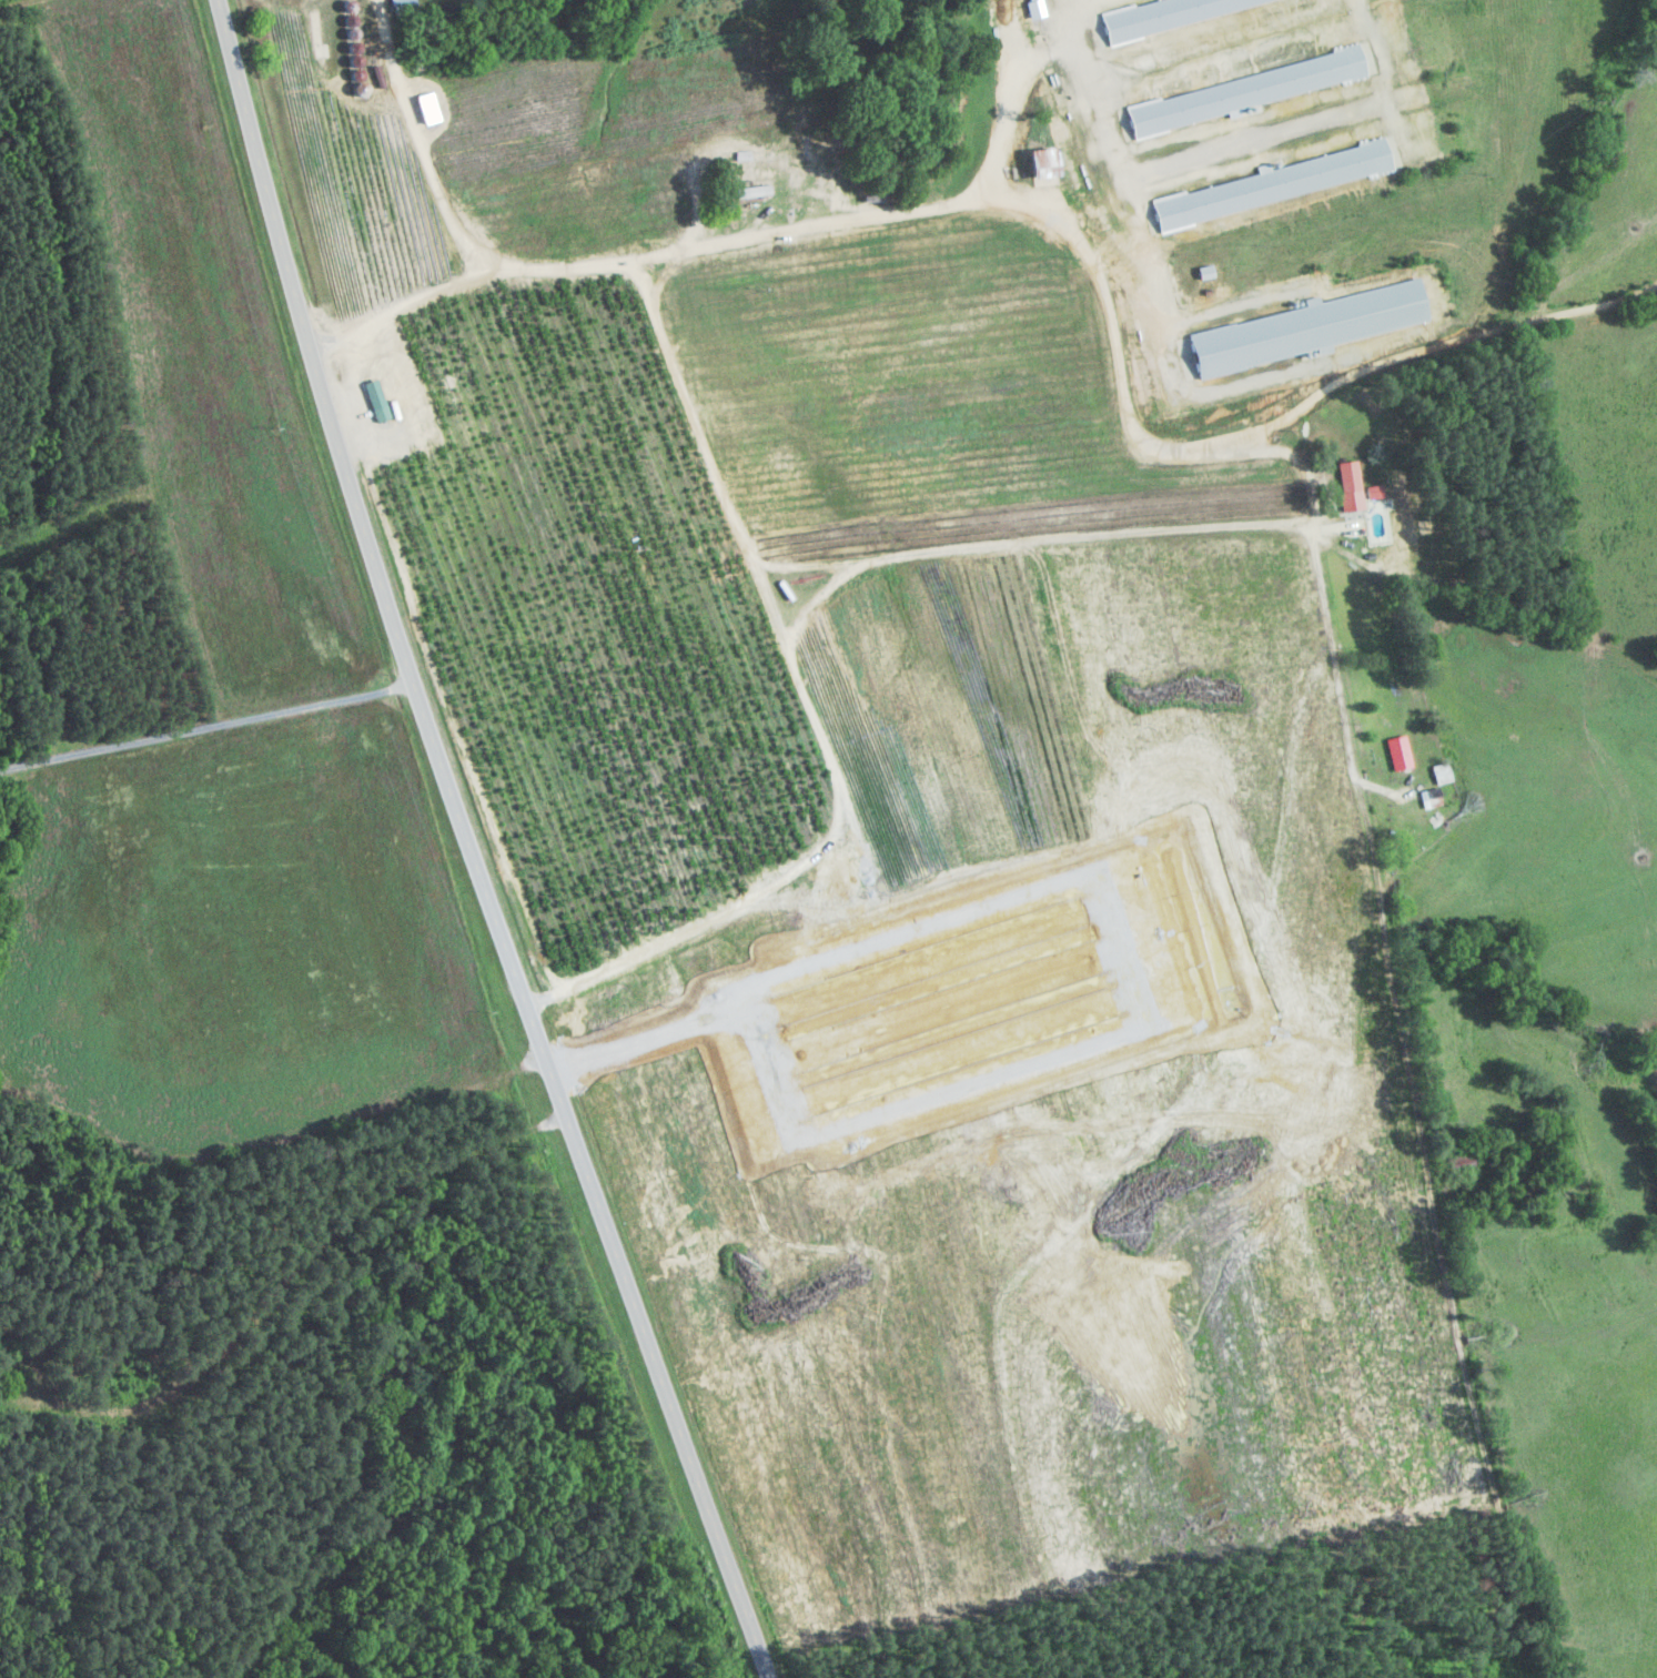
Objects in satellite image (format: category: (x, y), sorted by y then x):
building: (1034, 9)
building: (1171, 14)
building: (1239, 95)
building: (424, 111)
building: (811, 153)
building: (1039, 164)
building: (1274, 184)
road: (1057, 225)
building: (1306, 328)
building: (373, 402)
building: (1346, 479)
road: (809, 712)
road: (206, 729)
building: (1395, 755)
building: (1438, 776)
road: (471, 846)
building: (828, 878)
building: (1456, 1165)
road: (1475, 1387)

